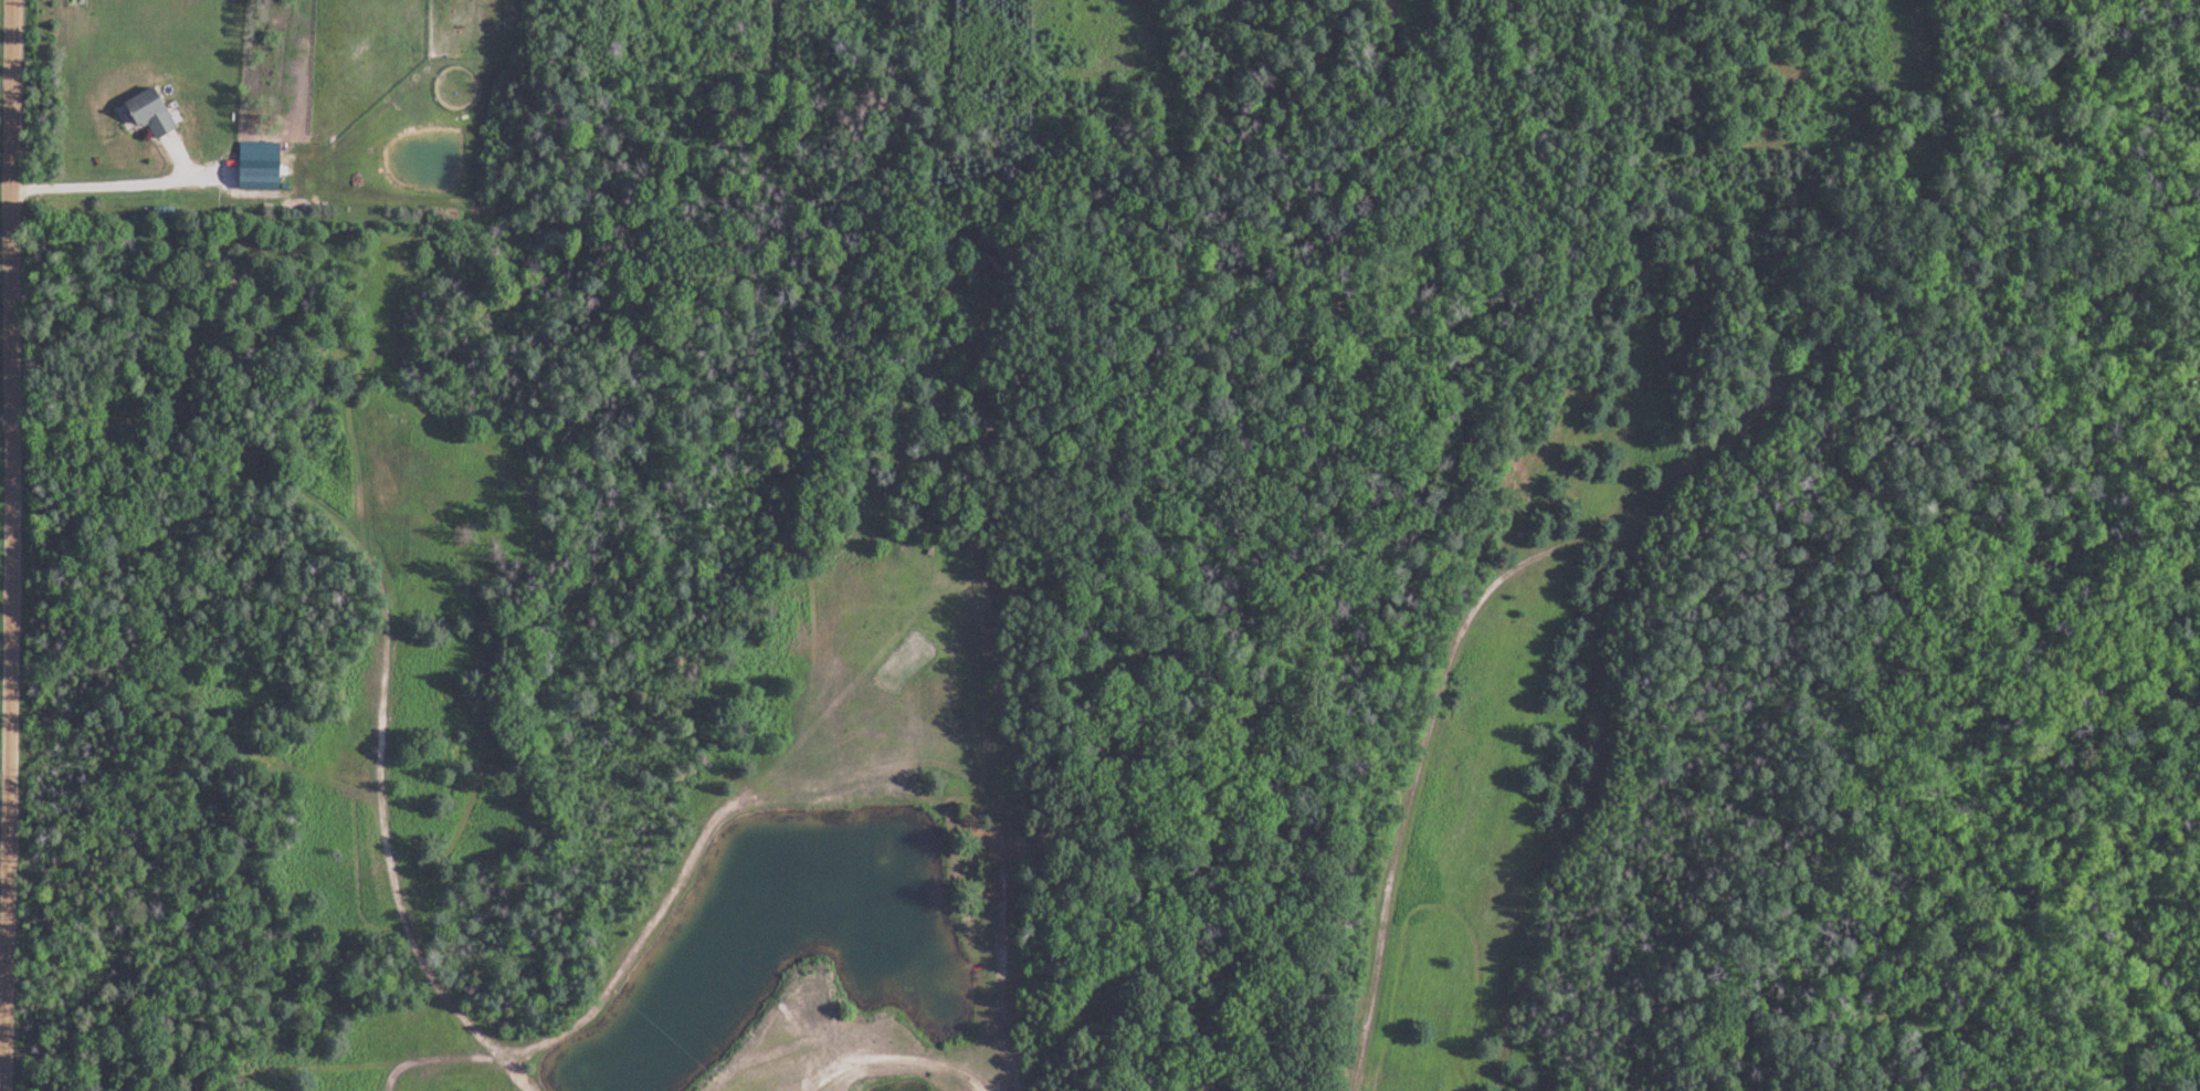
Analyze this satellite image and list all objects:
building: (157, 113)
road: (194, 176)
road: (112, 182)
road: (11, 545)

